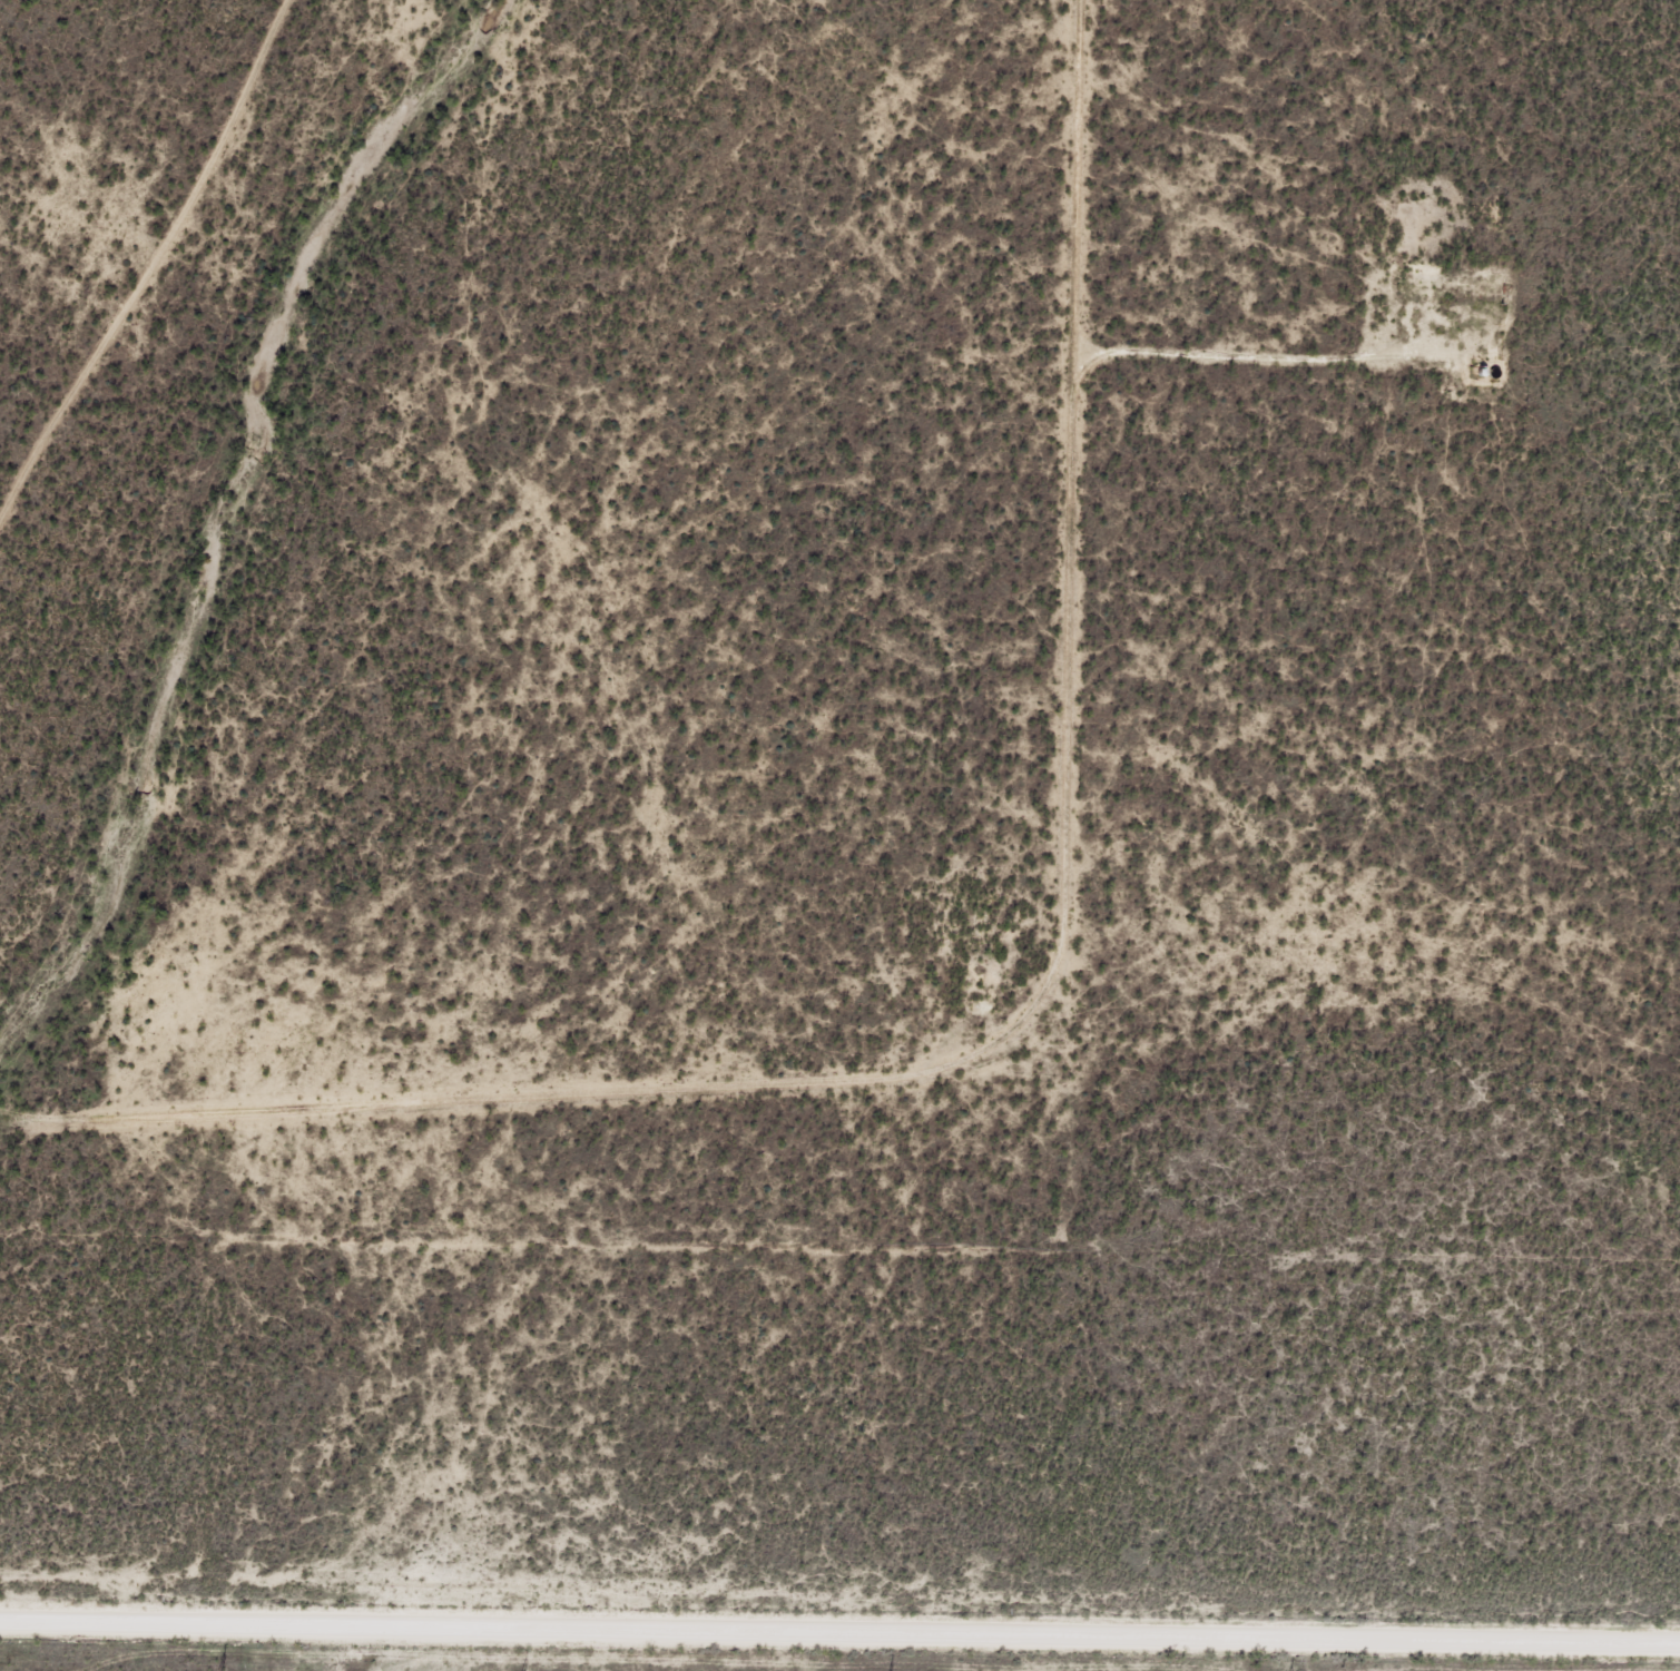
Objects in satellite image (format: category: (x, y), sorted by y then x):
road: (165, 272)
road: (1042, 1095)
road: (839, 1624)

